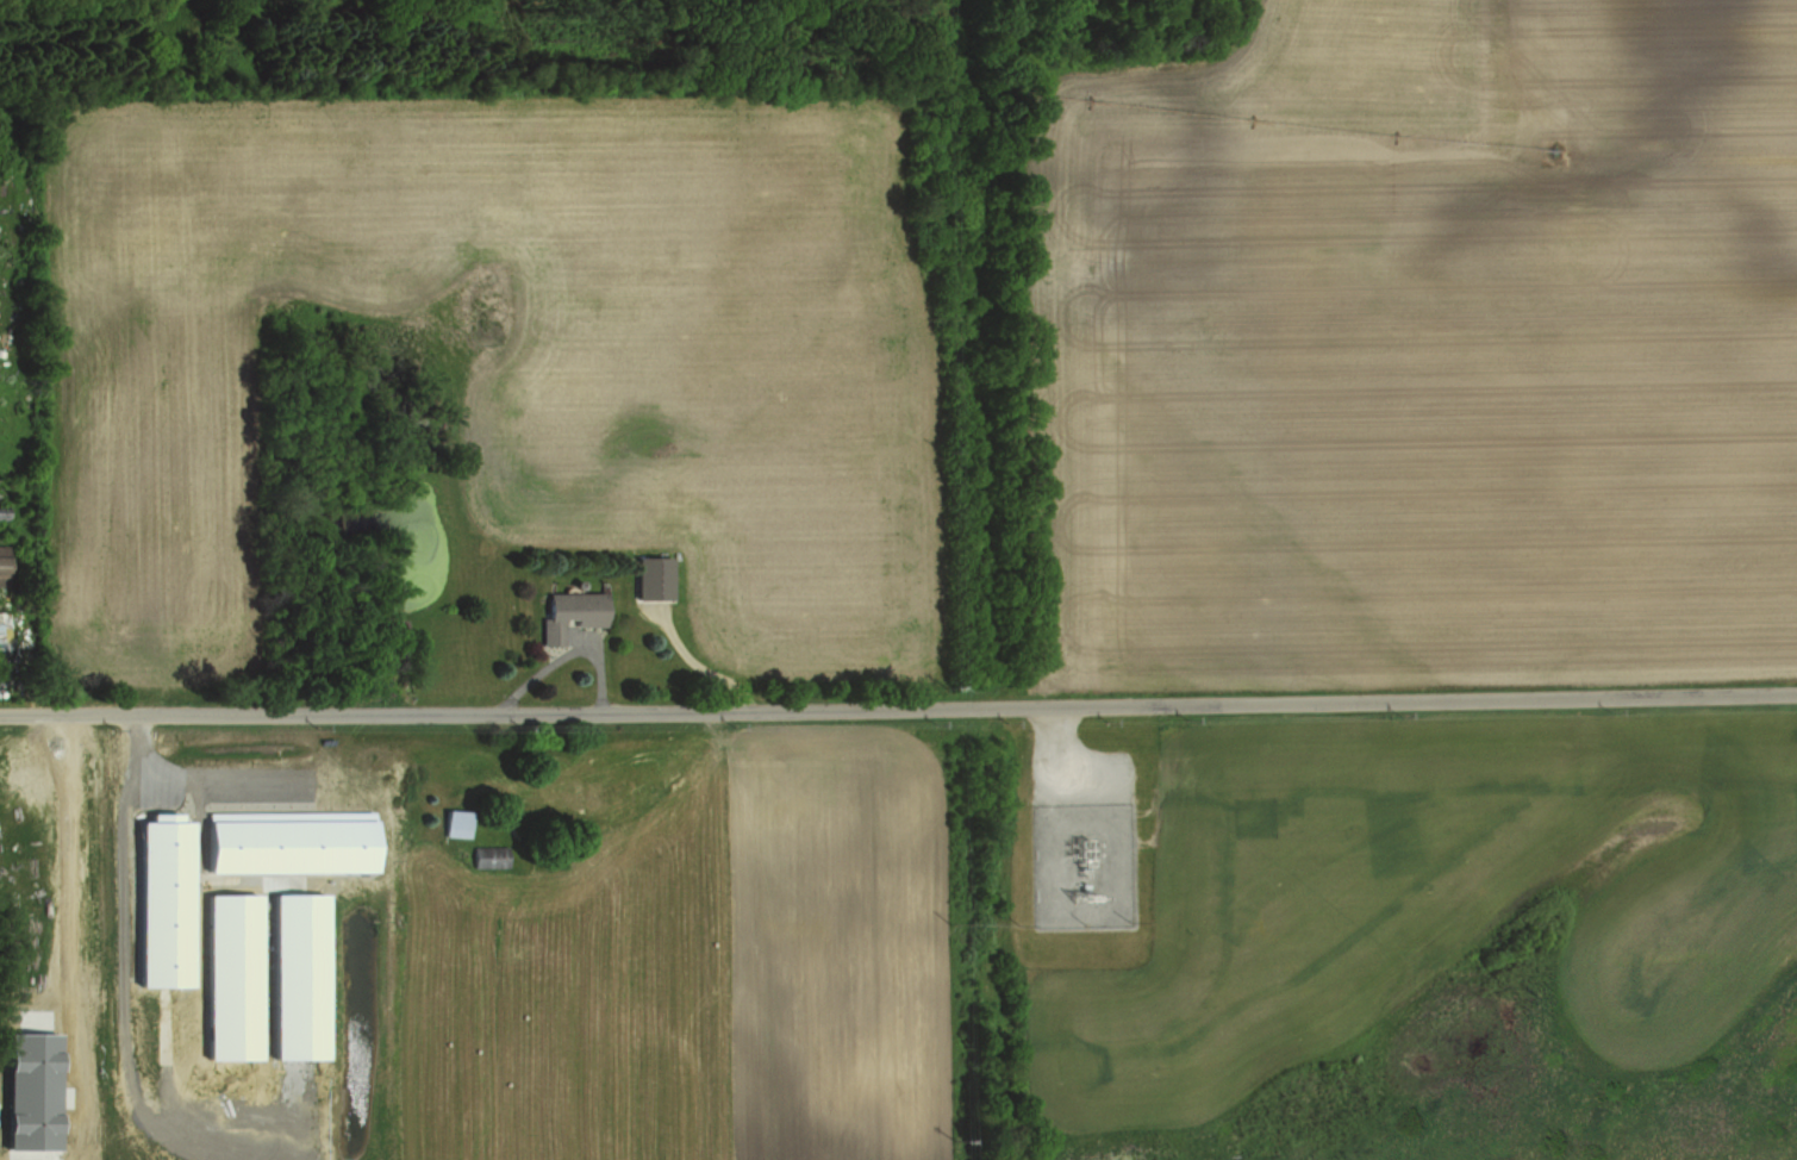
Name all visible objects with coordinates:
building: (2, 566)
building: (567, 613)
building: (5, 630)
road: (898, 704)
road: (219, 780)
building: (453, 824)
building: (289, 841)
building: (487, 856)
power substation: (1088, 866)
building: (164, 899)
road: (120, 941)
building: (298, 974)
building: (31, 1089)

